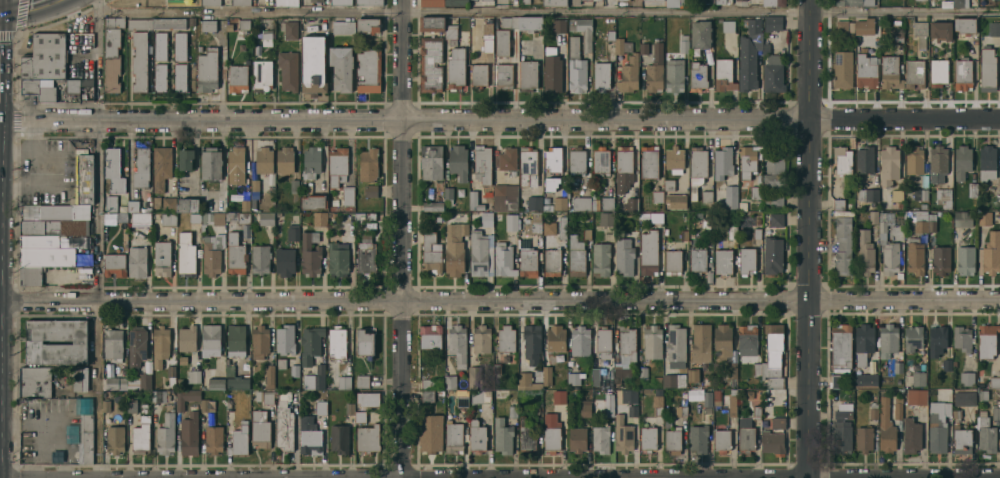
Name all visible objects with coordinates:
building: (316, 0)
building: (739, 0)
building: (917, 0)
building: (513, 1)
building: (525, 1)
building: (708, 1)
building: (723, 1)
building: (211, 2)
building: (241, 2)
building: (287, 2)
building: (340, 2)
building: (368, 2)
building: (456, 2)
building: (573, 2)
building: (774, 2)
building: (854, 2)
building: (943, 2)
building: (432, 3)
building: (555, 3)
building: (683, 3)
building: (959, 3)
road: (25, 8)
road: (549, 12)
building: (191, 21)
building: (510, 21)
building: (896, 21)
building: (772, 22)
building: (141, 23)
building: (169, 23)
building: (432, 23)
building: (530, 23)
building: (208, 24)
building: (244, 24)
building: (368, 25)
building: (965, 25)
building: (344, 26)
building: (559, 26)
building: (728, 26)
building: (865, 26)
building: (841, 27)
building: (851, 27)
building: (994, 28)
building: (289, 29)
building: (941, 29)
building: (582, 30)
building: (451, 31)
building: (920, 32)
building: (700, 34)
building: (610, 35)
building: (898, 36)
building: (267, 37)
building: (502, 41)
building: (453, 42)
building: (684, 43)
building: (179, 45)
building: (488, 45)
building: (160, 46)
building: (621, 46)
building: (643, 48)
building: (112, 52)
building: (749, 53)
building: (45, 57)
building: (139, 60)
building: (313, 64)
building: (431, 64)
building: (576, 65)
building: (342, 67)
building: (987, 67)
building: (456, 68)
building: (842, 68)
building: (288, 69)
building: (552, 69)
building: (654, 69)
building: (207, 70)
building: (368, 70)
building: (866, 70)
building: (773, 71)
building: (890, 72)
building: (938, 72)
building: (914, 73)
building: (963, 73)
building: (479, 74)
building: (528, 74)
building: (724, 74)
building: (262, 75)
building: (504, 75)
building: (628, 75)
building: (674, 75)
building: (601, 76)
building: (697, 76)
building: (160, 77)
building: (179, 77)
building: (237, 78)
building: (76, 84)
building: (39, 89)
road: (500, 121)
building: (91, 141)
building: (185, 158)
building: (507, 158)
building: (553, 159)
building: (674, 159)
building: (842, 159)
building: (864, 159)
building: (938, 159)
building: (264, 160)
building: (285, 160)
building: (577, 160)
building: (601, 160)
building: (749, 160)
building: (914, 160)
building: (236, 161)
building: (311, 161)
building: (431, 161)
building: (649, 161)
building: (962, 161)
building: (211, 162)
building: (458, 162)
building: (723, 162)
building: (987, 162)
building: (482, 163)
building: (368, 164)
building: (889, 164)
building: (338, 165)
building: (161, 166)
building: (528, 166)
building: (773, 166)
building: (141, 168)
building: (624, 168)
building: (697, 168)
building: (113, 169)
building: (936, 177)
building: (85, 178)
building: (925, 181)
building: (255, 184)
building: (669, 184)
building: (245, 185)
building: (294, 185)
building: (972, 189)
building: (370, 190)
building: (731, 190)
building: (755, 192)
building: (549, 193)
building: (348, 194)
building: (872, 194)
building: (897, 194)
building: (920, 194)
building: (706, 195)
building: (449, 196)
building: (657, 196)
building: (505, 197)
building: (943, 197)
building: (474, 200)
building: (676, 200)
building: (156, 201)
building: (314, 201)
building: (773, 201)
building: (335, 202)
building: (534, 202)
building: (561, 202)
building: (111, 203)
building: (581, 203)
building: (607, 203)
building: (169, 204)
building: (187, 204)
building: (838, 204)
building: (900, 204)
building: (133, 205)
building: (742, 205)
building: (433, 206)
building: (923, 206)
building: (56, 212)
building: (643, 215)
building: (180, 216)
building: (366, 216)
building: (873, 216)
building: (121, 217)
building: (238, 217)
building: (453, 217)
building: (655, 217)
building: (141, 218)
building: (195, 218)
building: (212, 218)
building: (266, 218)
building: (707, 218)
building: (963, 218)
building: (984, 218)
building: (168, 219)
building: (320, 219)
building: (487, 219)
building: (607, 219)
building: (776, 219)
building: (757, 220)
building: (921, 221)
building: (511, 222)
building: (536, 222)
building: (931, 222)
building: (885, 224)
building: (54, 227)
building: (562, 227)
building: (549, 228)
building: (732, 230)
building: (293, 232)
building: (587, 233)
building: (757, 233)
building: (684, 235)
road: (100, 238)
road: (402, 239)
road: (811, 239)
building: (843, 245)
building: (455, 247)
building: (44, 251)
building: (864, 251)
building: (212, 252)
building: (478, 252)
building: (648, 252)
building: (991, 252)
building: (310, 253)
building: (431, 253)
building: (186, 254)
building: (366, 254)
building: (697, 255)
building: (772, 255)
building: (576, 256)
building: (624, 256)
building: (915, 256)
building: (672, 257)
building: (161, 258)
building: (236, 258)
building: (260, 258)
building: (601, 258)
building: (890, 258)
building: (941, 258)
building: (503, 259)
building: (338, 260)
building: (746, 260)
building: (965, 260)
building: (285, 261)
building: (723, 261)
building: (137, 262)
building: (528, 262)
building: (553, 262)
building: (114, 264)
building: (30, 275)
road: (500, 302)
building: (430, 336)
building: (747, 336)
building: (913, 337)
building: (187, 338)
building: (556, 338)
building: (962, 338)
building: (210, 339)
building: (285, 339)
building: (482, 339)
building: (506, 339)
building: (987, 339)
building: (235, 340)
building: (888, 340)
building: (937, 340)
building: (35, 341)
building: (259, 341)
building: (581, 341)
building: (652, 341)
building: (337, 342)
building: (364, 342)
building: (603, 342)
building: (628, 342)
building: (675, 342)
building: (722, 342)
building: (863, 342)
building: (113, 343)
building: (532, 343)
building: (700, 343)
building: (310, 344)
building: (137, 345)
building: (160, 345)
building: (458, 345)
building: (841, 347)
building: (772, 357)
building: (183, 360)
building: (281, 363)
building: (947, 364)
building: (954, 364)
building: (716, 366)
building: (898, 367)
building: (230, 370)
building: (294, 370)
building: (497, 370)
building: (730, 370)
building: (621, 373)
building: (643, 373)
building: (269, 374)
building: (171, 375)
building: (547, 375)
building: (193, 376)
building: (474, 376)
building: (595, 376)
building: (693, 376)
building: (80, 378)
building: (315, 378)
building: (574, 378)
building: (967, 378)
building: (919, 379)
building: (362, 380)
building: (656, 380)
building: (674, 380)
building: (836, 380)
building: (866, 380)
building: (140, 381)
building: (180, 381)
building: (527, 381)
building: (995, 381)
building: (116, 382)
building: (344, 382)
building: (450, 382)
building: (35, 383)
building: (216, 383)
building: (238, 383)
building: (432, 384)
building: (441, 392)
building: (572, 393)
building: (983, 394)
building: (159, 395)
building: (629, 395)
building: (684, 395)
building: (264, 396)
building: (428, 396)
building: (917, 396)
building: (186, 397)
building: (481, 397)
building: (559, 397)
building: (716, 397)
building: (967, 397)
building: (367, 398)
building: (707, 398)
building: (462, 401)
building: (106, 405)
building: (131, 405)
building: (208, 405)
building: (732, 405)
building: (349, 407)
building: (536, 407)
building: (585, 407)
building: (321, 408)
building: (898, 408)
building: (944, 408)
building: (229, 409)
building: (633, 410)
building: (658, 410)
building: (873, 410)
building: (513, 411)
building: (609, 411)
building: (681, 411)
building: (756, 412)
building: (995, 412)
building: (843, 414)
building: (360, 416)
building: (207, 418)
building: (668, 422)
building: (778, 422)
building: (284, 426)
building: (886, 427)
building: (260, 430)
road: (37, 431)
building: (166, 433)
building: (189, 433)
building: (431, 433)
building: (552, 433)
building: (960, 433)
building: (71, 434)
building: (746, 434)
building: (937, 434)
building: (141, 435)
building: (623, 435)
building: (911, 435)
building: (503, 436)
building: (310, 437)
building: (454, 437)
building: (477, 437)
building: (526, 437)
building: (842, 437)
building: (339, 438)
building: (648, 438)
building: (698, 438)
building: (864, 438)
building: (987, 438)
building: (86, 439)
building: (115, 439)
building: (213, 439)
building: (368, 439)
building: (577, 439)
building: (601, 439)
building: (239, 440)
building: (673, 440)
building: (721, 440)
building: (773, 442)
road: (741, 474)

